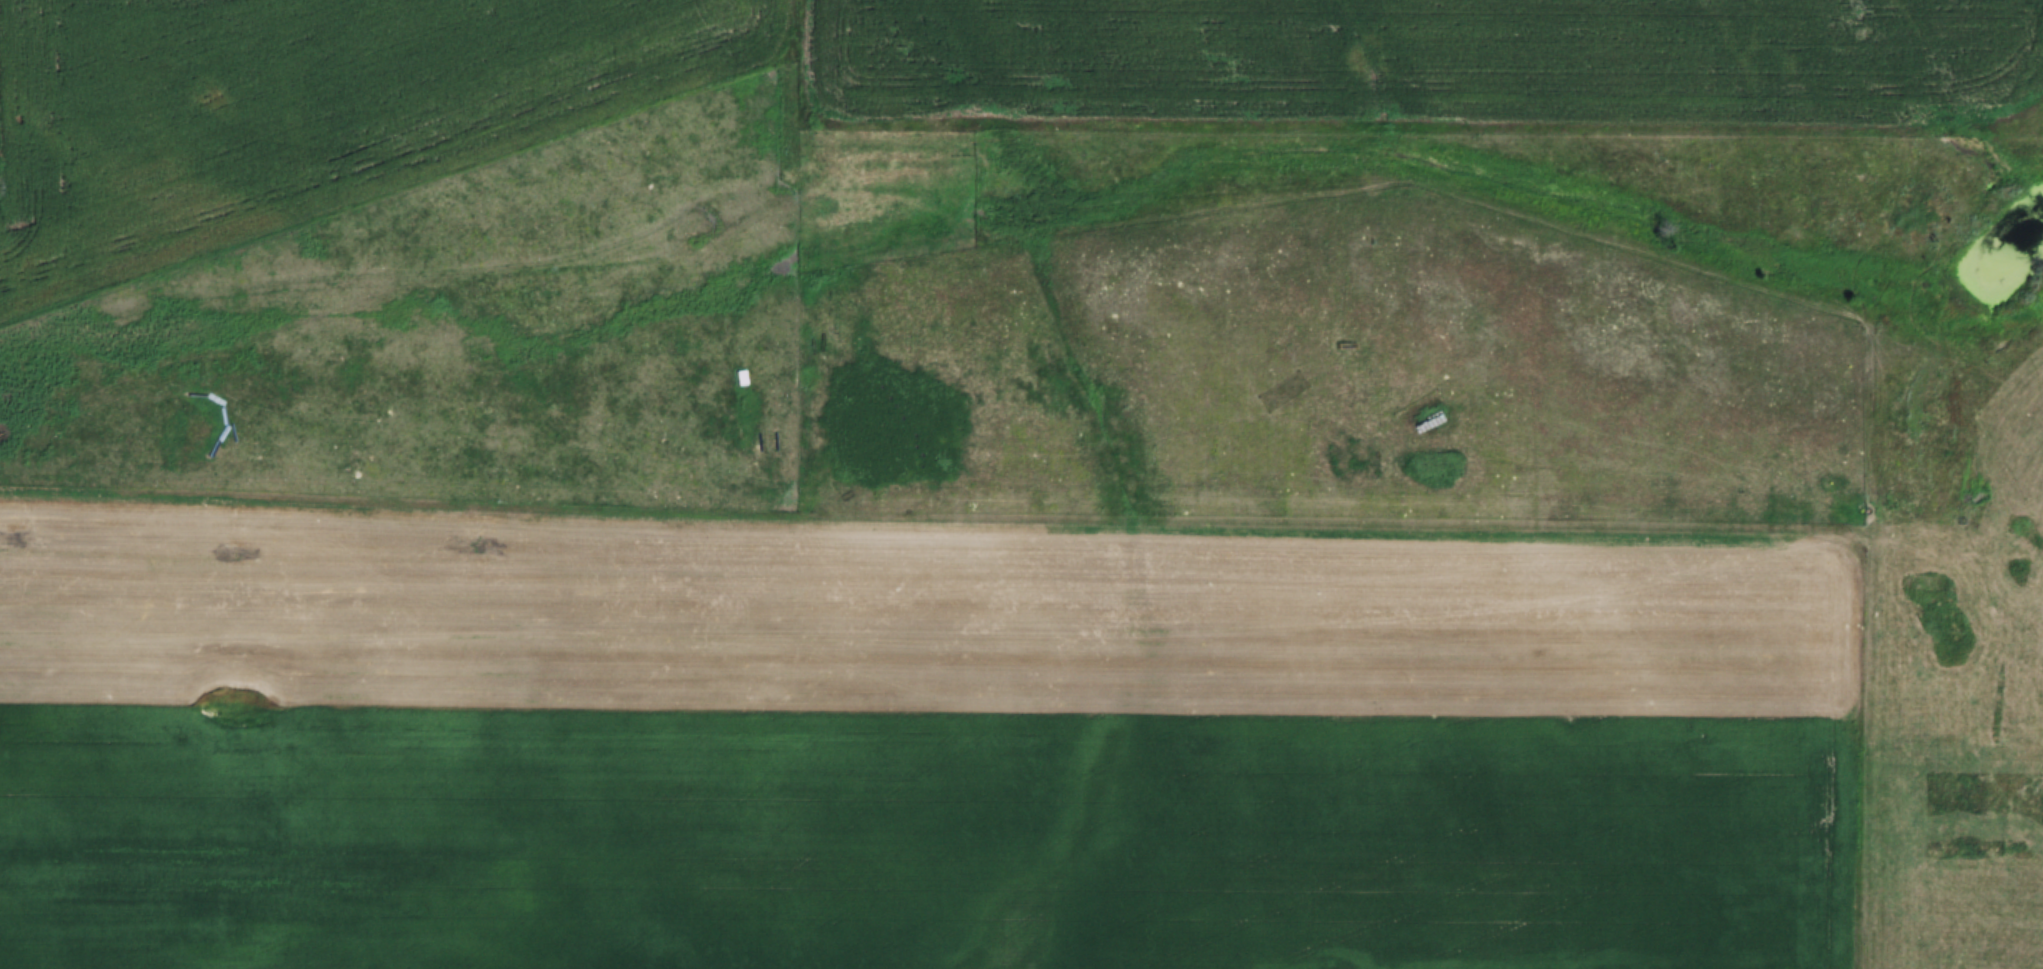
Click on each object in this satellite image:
building: (648, 360)
building: (185, 367)

